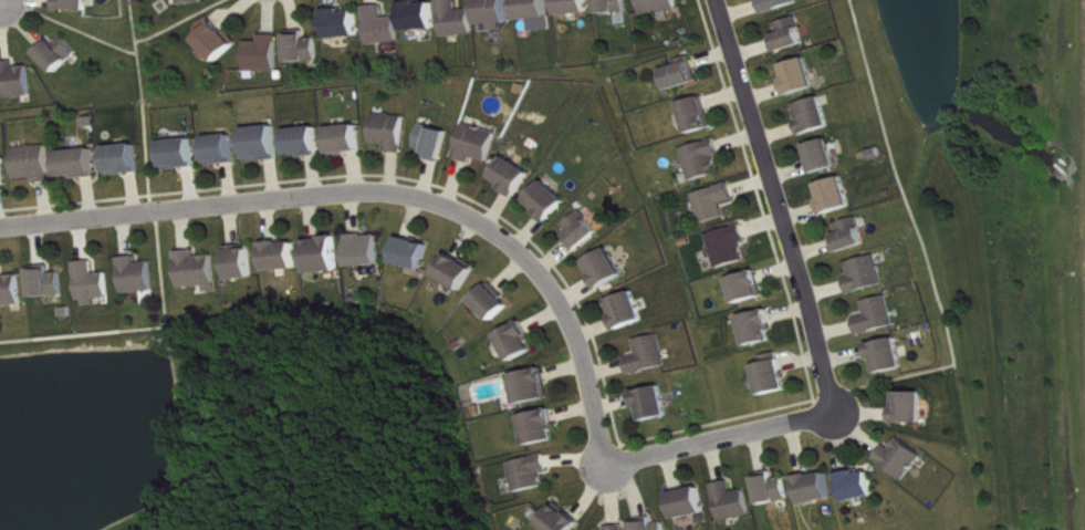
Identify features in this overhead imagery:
building: (196, 1)
building: (781, 4)
building: (80, 6)
building: (661, 6)
building: (577, 7)
building: (616, 7)
building: (498, 12)
building: (539, 13)
building: (422, 17)
building: (459, 20)
building: (346, 24)
building: (385, 27)
building: (793, 35)
building: (219, 42)
building: (306, 49)
building: (61, 53)
building: (268, 55)
building: (686, 74)
building: (803, 76)
building: (19, 81)
building: (699, 116)
building: (816, 116)
building: (393, 133)
building: (348, 139)
building: (307, 143)
building: (437, 143)
building: (267, 144)
building: (479, 144)
building: (226, 150)
building: (184, 155)
building: (826, 157)
building: (706, 159)
building: (127, 160)
building: (38, 164)
building: (82, 165)
building: (4, 174)
building: (515, 177)
road: (384, 191)
building: (839, 196)
building: (551, 201)
building: (718, 202)
road: (774, 204)
building: (584, 232)
building: (854, 236)
building: (732, 247)
building: (368, 251)
building: (416, 253)
building: (326, 256)
building: (285, 257)
building: (244, 263)
building: (608, 269)
building: (201, 272)
building: (459, 272)
building: (869, 276)
building: (142, 277)
building: (51, 284)
building: (96, 284)
building: (750, 288)
building: (12, 290)
building: (494, 303)
building: (629, 311)
building: (880, 316)
building: (761, 329)
building: (521, 342)
building: (651, 356)
building: (891, 356)
building: (773, 376)
building: (534, 387)
building: (656, 404)
building: (912, 407)
building: (543, 428)
road: (723, 435)
building: (904, 459)
building: (531, 475)
building: (860, 487)
building: (775, 489)
building: (818, 489)
building: (734, 502)
building: (691, 503)
building: (564, 520)
building: (656, 526)
building: (619, 528)

